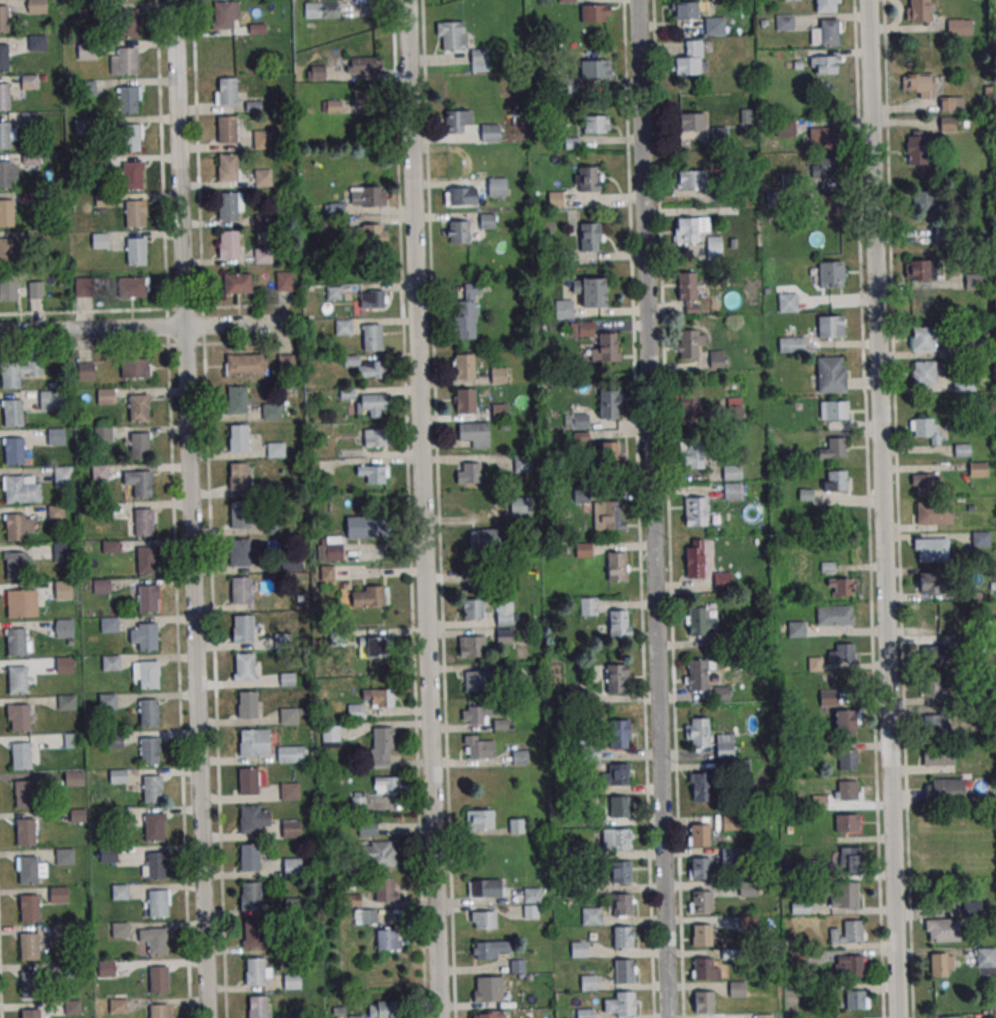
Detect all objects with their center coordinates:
building: (124, 0)
building: (788, 0)
building: (36, 6)
building: (825, 6)
building: (321, 9)
building: (684, 10)
building: (87, 13)
building: (595, 13)
building: (226, 16)
building: (4, 21)
building: (784, 23)
building: (128, 24)
building: (959, 27)
building: (715, 28)
building: (829, 33)
building: (451, 35)
building: (36, 44)
building: (85, 51)
building: (4, 59)
building: (478, 59)
building: (691, 59)
building: (128, 63)
building: (364, 64)
building: (825, 66)
building: (595, 68)
building: (30, 83)
building: (917, 85)
building: (568, 86)
building: (87, 89)
building: (227, 93)
building: (4, 98)
building: (365, 99)
building: (128, 101)
building: (951, 104)
building: (456, 121)
building: (691, 121)
building: (29, 122)
building: (947, 123)
building: (596, 124)
building: (83, 128)
building: (785, 128)
building: (227, 131)
building: (488, 132)
building: (719, 136)
building: (4, 137)
building: (825, 138)
building: (130, 140)
building: (262, 141)
building: (917, 148)
road: (160, 154)
building: (96, 165)
building: (227, 169)
building: (828, 169)
building: (7, 172)
building: (132, 178)
building: (263, 179)
building: (588, 179)
building: (691, 180)
building: (789, 180)
building: (497, 187)
building: (721, 193)
building: (367, 196)
building: (460, 196)
building: (773, 198)
building: (37, 199)
building: (555, 199)
building: (926, 200)
building: (228, 207)
building: (832, 207)
building: (6, 215)
building: (135, 215)
building: (487, 222)
building: (454, 231)
building: (687, 231)
building: (940, 232)
building: (367, 234)
building: (590, 236)
building: (35, 237)
building: (100, 242)
building: (229, 246)
building: (713, 247)
building: (7, 253)
building: (136, 254)
building: (262, 257)
building: (919, 271)
building: (831, 276)
building: (284, 281)
building: (973, 281)
building: (237, 284)
building: (134, 286)
building: (82, 287)
building: (688, 288)
building: (8, 289)
building: (34, 290)
building: (590, 291)
building: (372, 298)
building: (787, 302)
road: (146, 309)
building: (563, 309)
building: (467, 313)
road: (145, 327)
building: (829, 327)
building: (580, 328)
building: (371, 337)
building: (923, 340)
building: (688, 343)
building: (791, 344)
road: (146, 345)
building: (608, 347)
building: (716, 359)
building: (246, 364)
building: (463, 365)
building: (135, 368)
building: (371, 369)
building: (85, 372)
building: (829, 374)
building: (498, 375)
building: (924, 375)
building: (10, 376)
building: (105, 398)
building: (236, 399)
building: (465, 400)
building: (52, 401)
building: (689, 403)
building: (371, 404)
building: (609, 404)
building: (734, 408)
building: (138, 410)
building: (833, 410)
building: (271, 411)
building: (13, 415)
building: (576, 421)
building: (926, 429)
building: (474, 434)
building: (103, 435)
building: (55, 437)
building: (238, 437)
building: (376, 438)
building: (836, 446)
building: (140, 447)
building: (275, 449)
building: (14, 453)
building: (611, 454)
building: (692, 456)
building: (522, 463)
building: (978, 469)
building: (731, 471)
building: (373, 473)
building: (468, 473)
building: (99, 474)
building: (237, 476)
building: (63, 478)
building: (835, 480)
building: (926, 484)
building: (142, 486)
building: (20, 489)
building: (732, 490)
building: (520, 505)
road: (421, 508)
road: (190, 509)
road: (208, 509)
road: (650, 509)
road: (867, 509)
road: (883, 509)
road: (897, 509)
building: (694, 510)
building: (56, 512)
building: (103, 512)
building: (933, 512)
building: (607, 515)
building: (239, 516)
building: (144, 524)
building: (13, 526)
building: (361, 527)
building: (484, 538)
building: (110, 546)
building: (329, 549)
building: (929, 549)
building: (61, 551)
building: (239, 553)
building: (146, 561)
building: (14, 564)
building: (694, 565)
building: (615, 566)
building: (929, 582)
building: (100, 585)
building: (841, 585)
building: (62, 589)
building: (239, 590)
building: (369, 596)
building: (147, 597)
building: (15, 601)
building: (588, 606)
building: (472, 609)
building: (504, 613)
building: (833, 615)
building: (696, 622)
building: (108, 624)
building: (619, 624)
building: (63, 628)
building: (243, 628)
building: (796, 629)
building: (145, 636)
building: (504, 636)
building: (16, 640)
building: (281, 640)
building: (471, 646)
building: (377, 647)
building: (844, 652)
building: (933, 654)
building: (109, 662)
road: (178, 663)
building: (63, 665)
building: (242, 666)
building: (148, 674)
building: (613, 677)
building: (698, 677)
building: (17, 680)
building: (475, 680)
building: (929, 687)
building: (828, 698)
building: (106, 701)
building: (65, 702)
building: (246, 705)
building: (147, 713)
building: (476, 714)
building: (287, 716)
building: (19, 717)
building: (845, 722)
building: (935, 723)
building: (501, 724)
building: (619, 733)
building: (699, 733)
building: (330, 736)
building: (112, 739)
building: (71, 741)
building: (253, 741)
building: (724, 746)
building: (382, 747)
building: (478, 747)
building: (148, 751)
building: (589, 753)
building: (289, 754)
building: (20, 755)
building: (937, 755)
building: (519, 757)
building: (847, 760)
building: (617, 774)
building: (116, 776)
building: (72, 779)
building: (248, 780)
building: (386, 785)
building: (699, 787)
building: (151, 788)
building: (944, 789)
building: (847, 790)
building: (24, 793)
building: (288, 793)
building: (358, 801)
building: (618, 806)
building: (117, 815)
building: (595, 815)
building: (77, 816)
building: (252, 818)
building: (479, 819)
building: (729, 823)
building: (847, 823)
building: (516, 825)
building: (152, 827)
building: (290, 828)
building: (366, 829)
building: (25, 832)
building: (698, 835)
building: (619, 839)
building: (574, 852)
building: (377, 853)
building: (107, 854)
building: (248, 856)
building: (728, 856)
building: (63, 857)
building: (849, 858)
building: (156, 864)
building: (291, 868)
building: (27, 869)
building: (700, 869)
building: (620, 872)
building: (583, 883)
building: (484, 888)
building: (747, 889)
building: (118, 892)
building: (386, 893)
building: (531, 894)
building: (57, 895)
building: (249, 895)
building: (847, 897)
building: (700, 902)
building: (156, 903)
building: (621, 905)
building: (292, 906)
building: (29, 907)
building: (972, 908)
building: (591, 916)
building: (484, 920)
building: (747, 922)
building: (119, 930)
building: (941, 930)
building: (852, 931)
building: (59, 932)
building: (252, 933)
building: (700, 935)
building: (621, 937)
building: (388, 938)
building: (155, 941)
building: (28, 946)
building: (489, 949)
building: (578, 949)
building: (986, 957)
building: (941, 964)
building: (853, 965)
building: (105, 968)
building: (701, 968)
building: (71, 970)
building: (252, 971)
building: (622, 971)
building: (158, 978)
building: (291, 981)
building: (586, 983)
building: (29, 984)
building: (486, 989)
building: (736, 989)
building: (854, 999)
road: (0, 1001)
building: (703, 1002)
building: (623, 1005)
building: (116, 1006)
building: (255, 1006)
building: (71, 1008)
building: (382, 1009)
building: (156, 1011)
building: (28, 1013)
building: (584, 1013)
building: (487, 1015)
building: (301, 1016)
building: (762, 1016)
building: (949, 1017)

